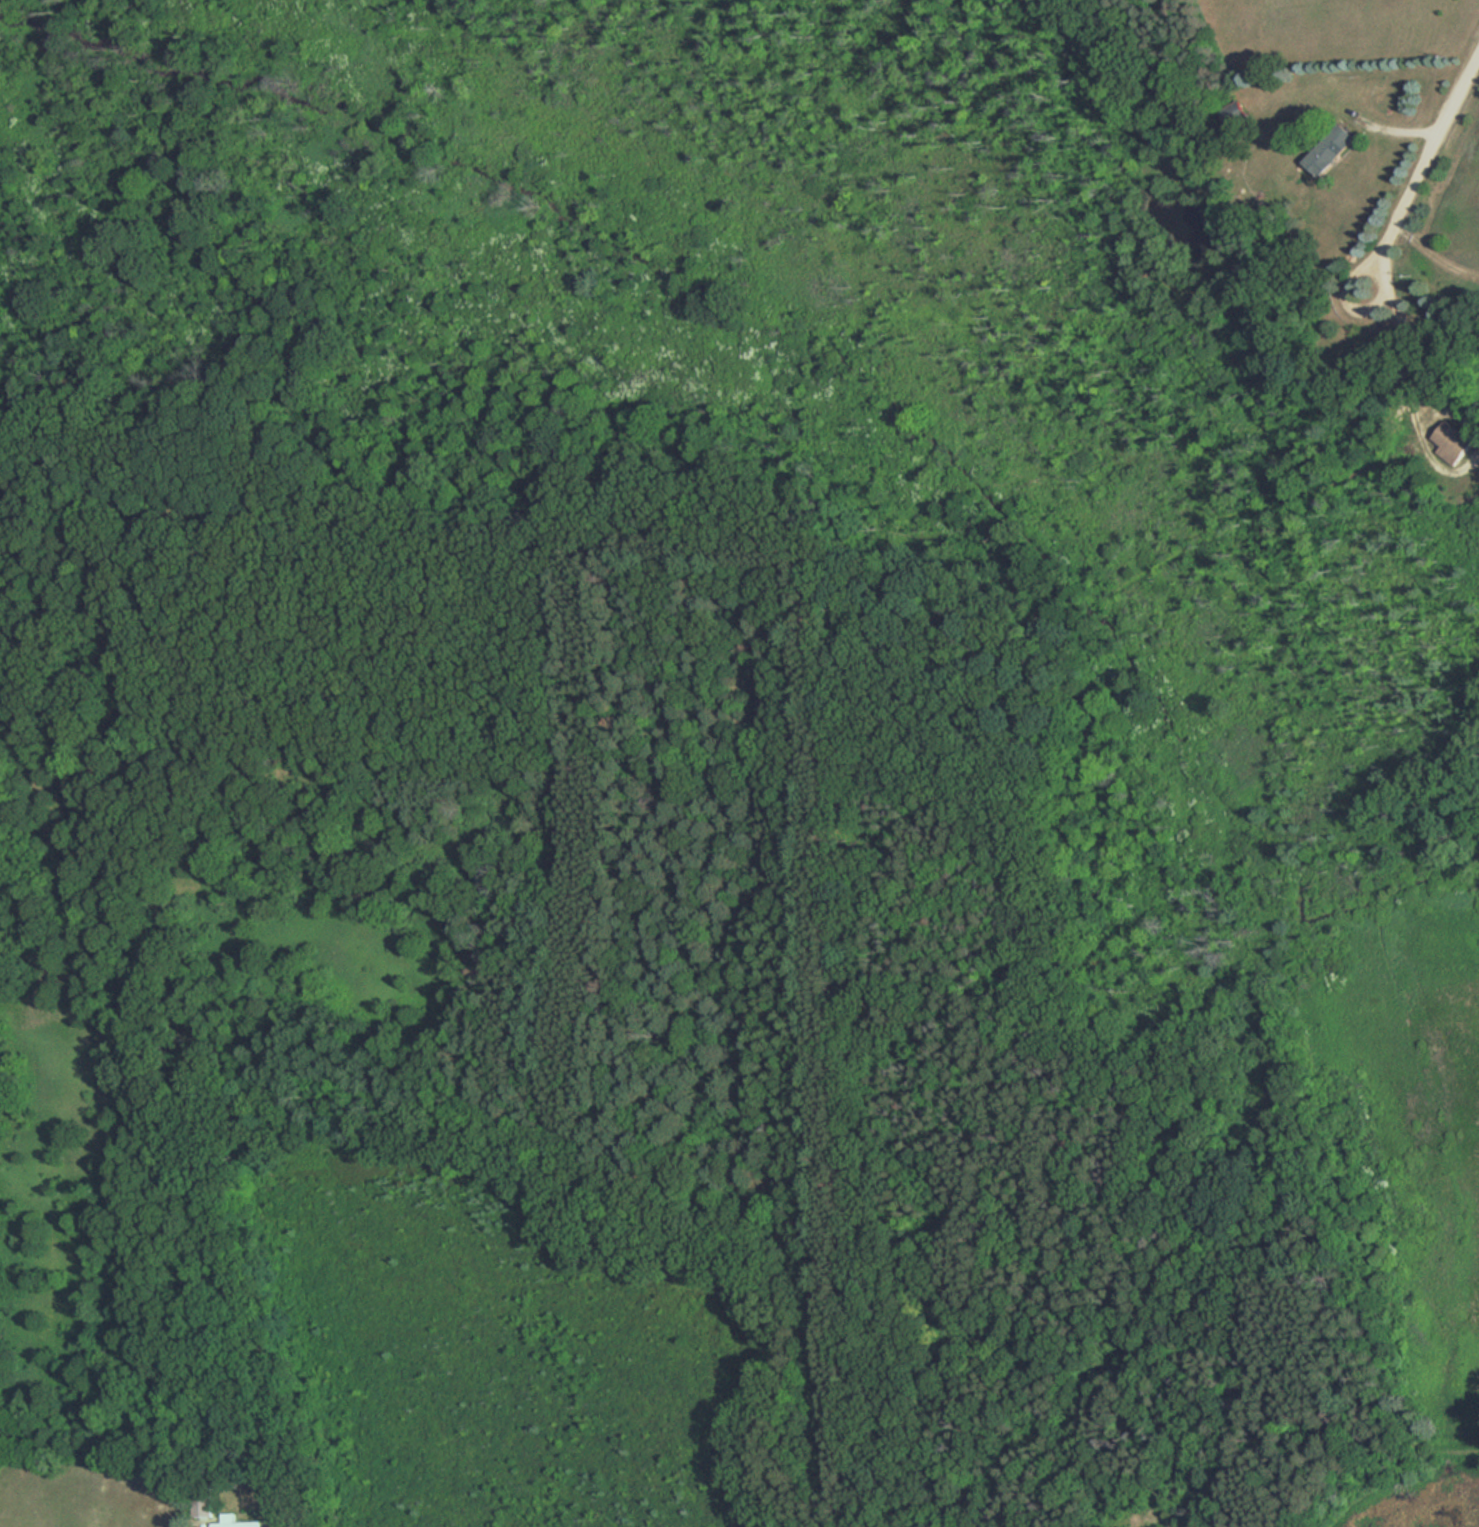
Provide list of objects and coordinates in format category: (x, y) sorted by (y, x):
building: (1328, 149)
road: (1419, 162)
road: (1418, 353)
building: (1450, 442)
park: (639, 861)
building: (208, 1508)
building: (240, 1522)

